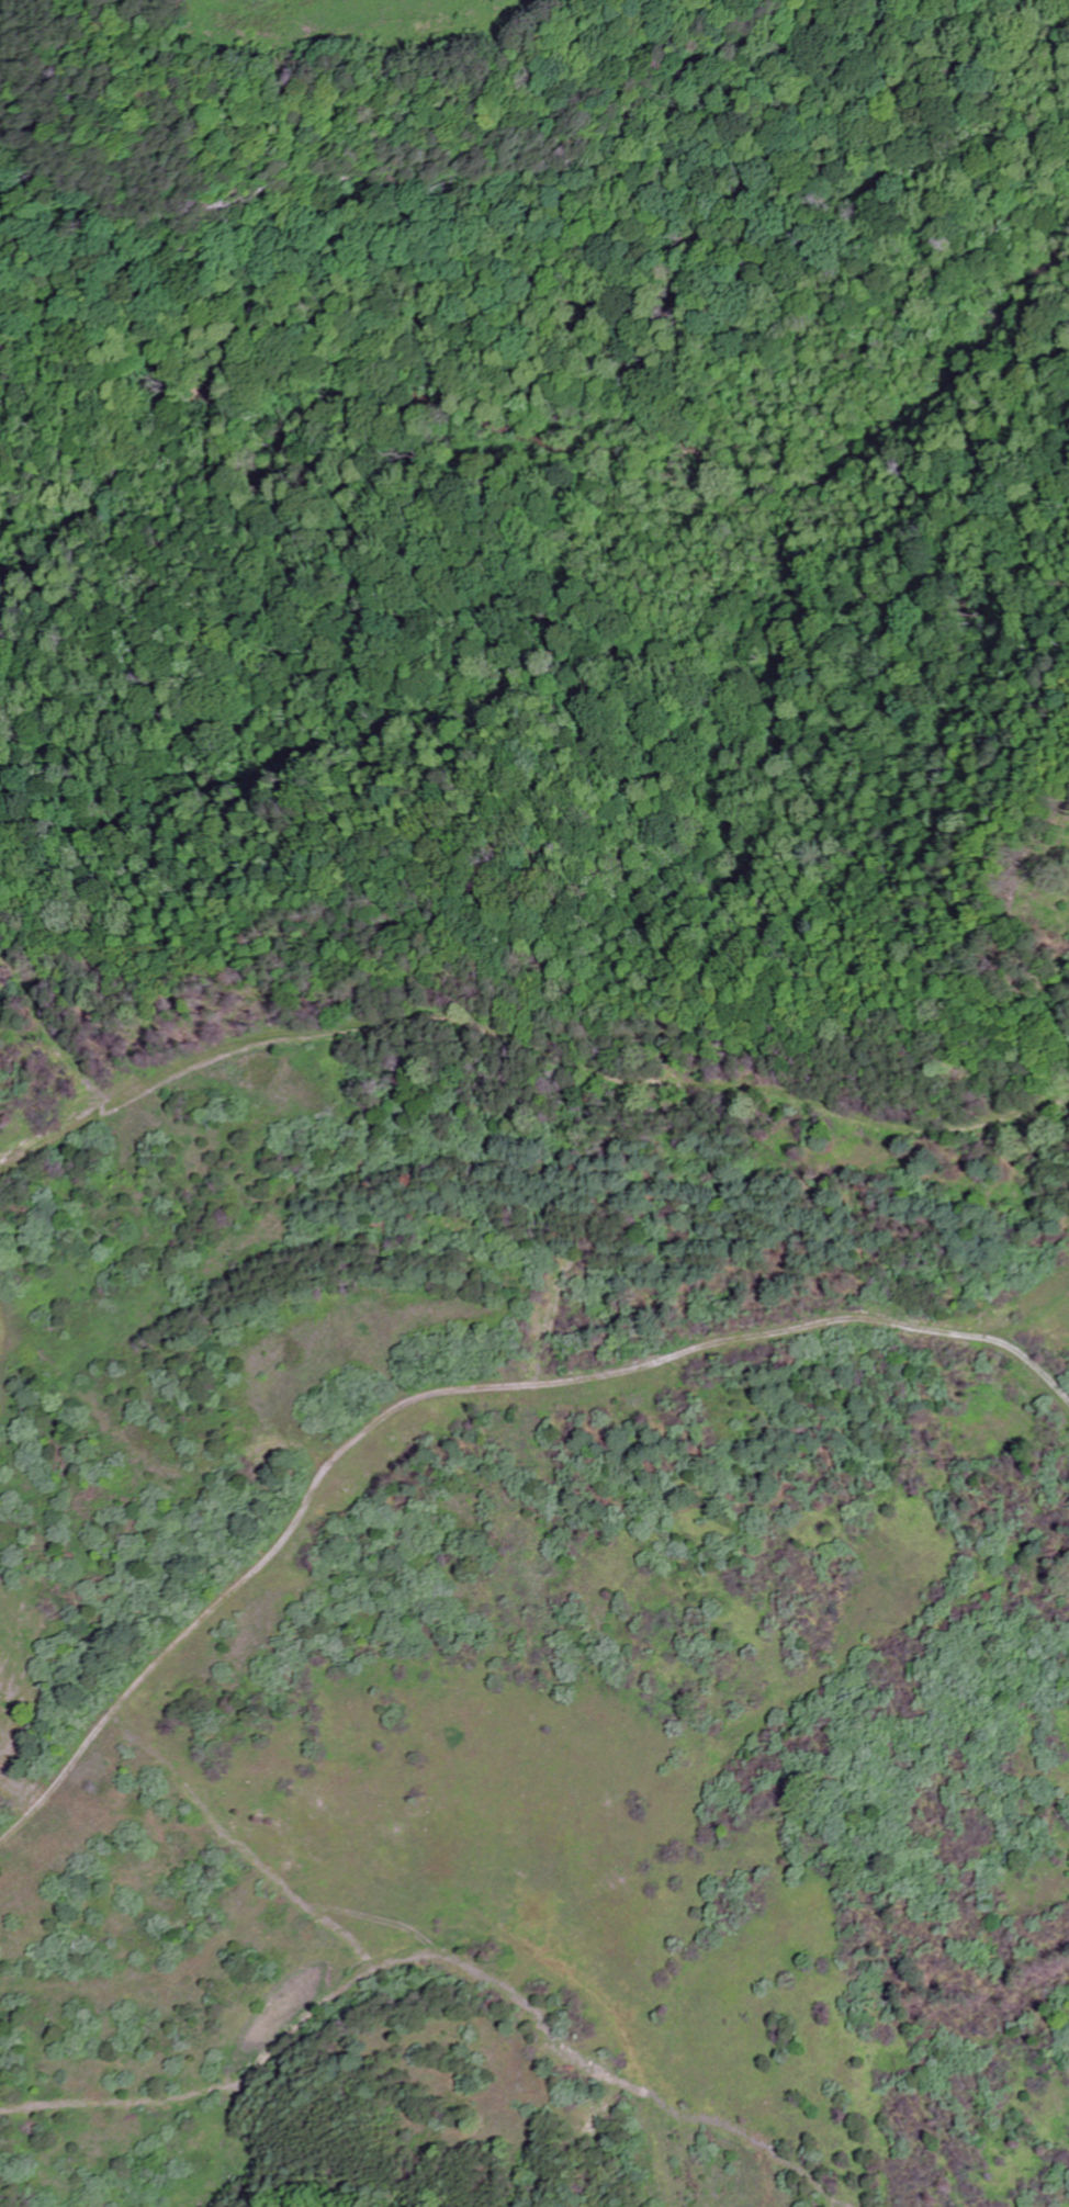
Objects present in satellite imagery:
road: (524, 1032)
road: (12, 1300)
road: (454, 1392)
road: (145, 1452)

